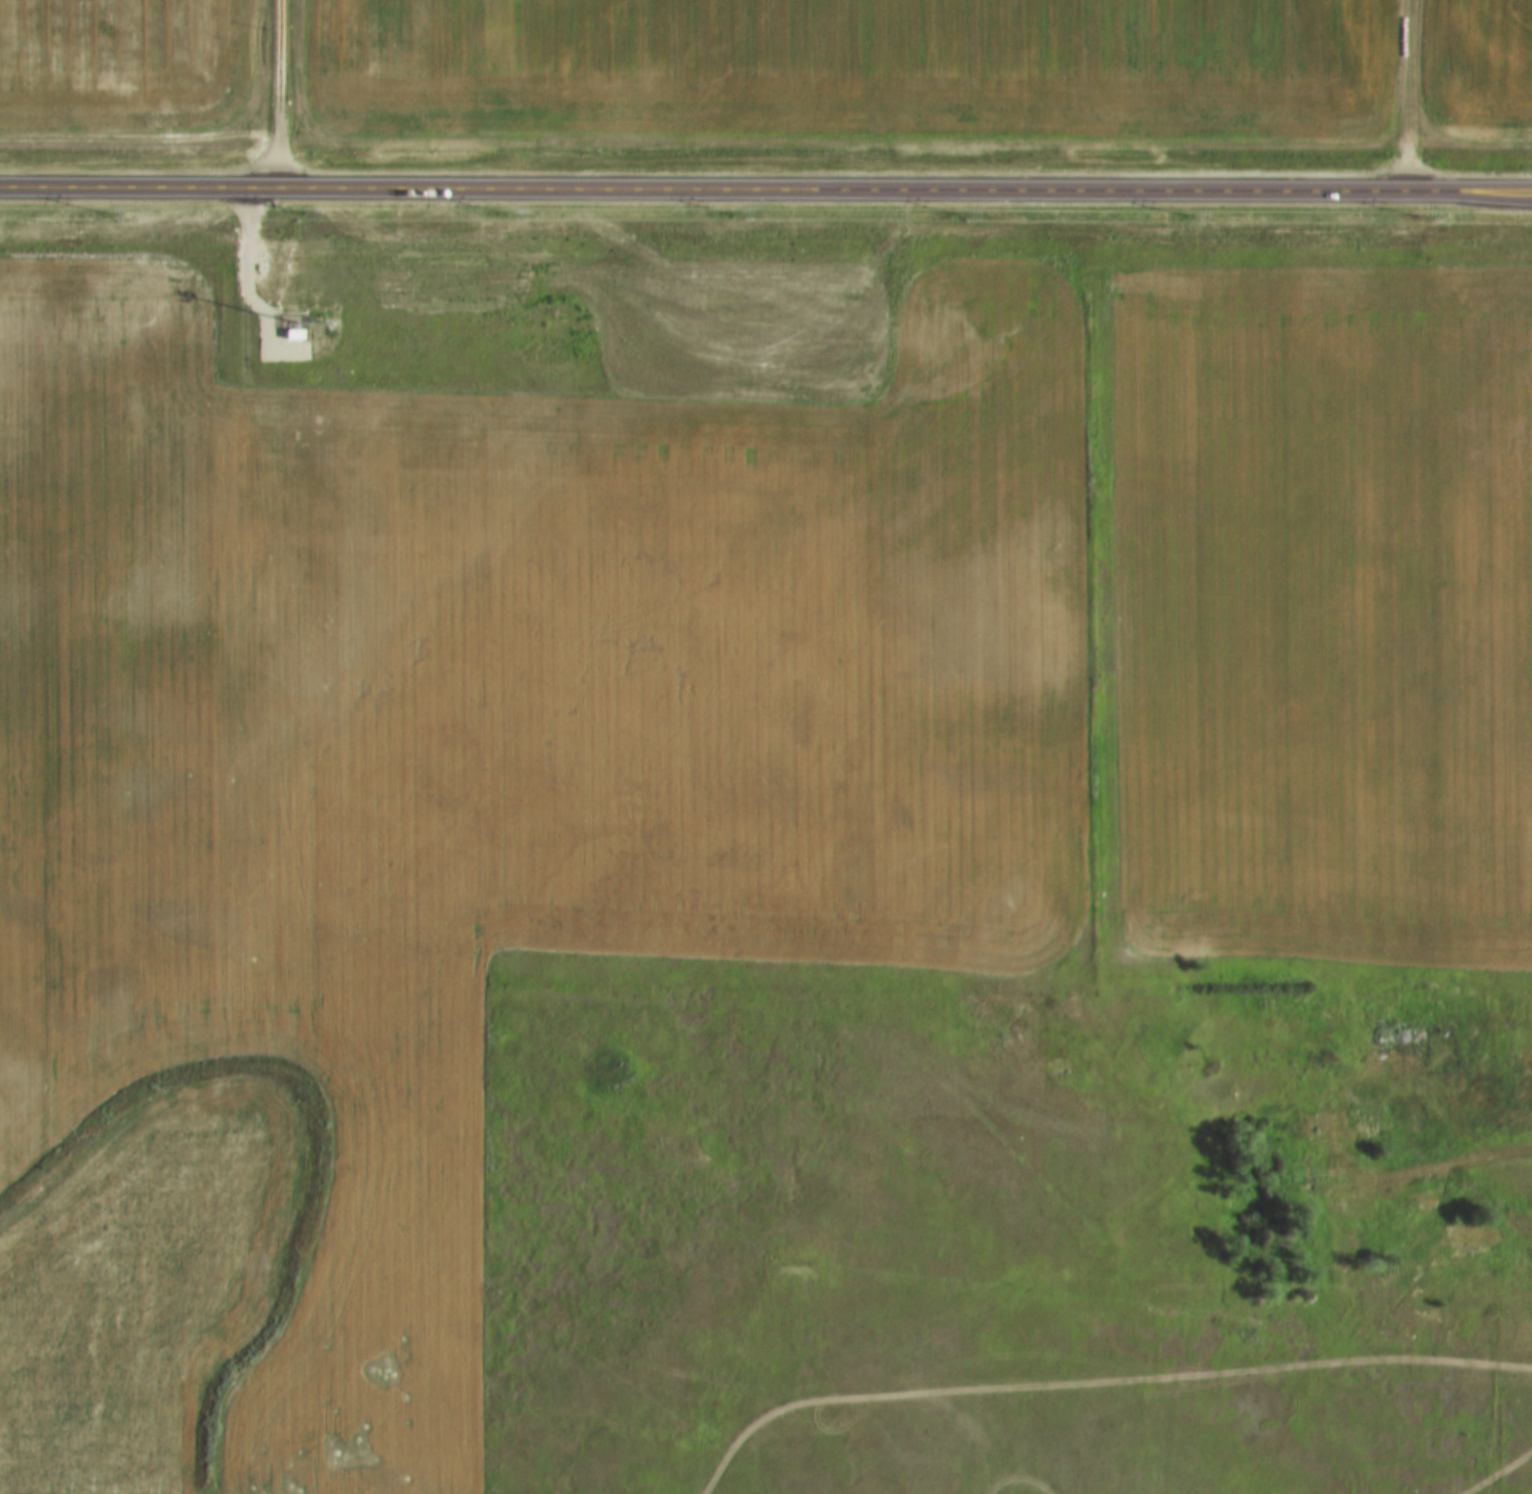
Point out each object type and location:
road: (1454, 95)
road: (280, 96)
road: (765, 191)
road: (1364, 1081)
road: (1513, 1153)

